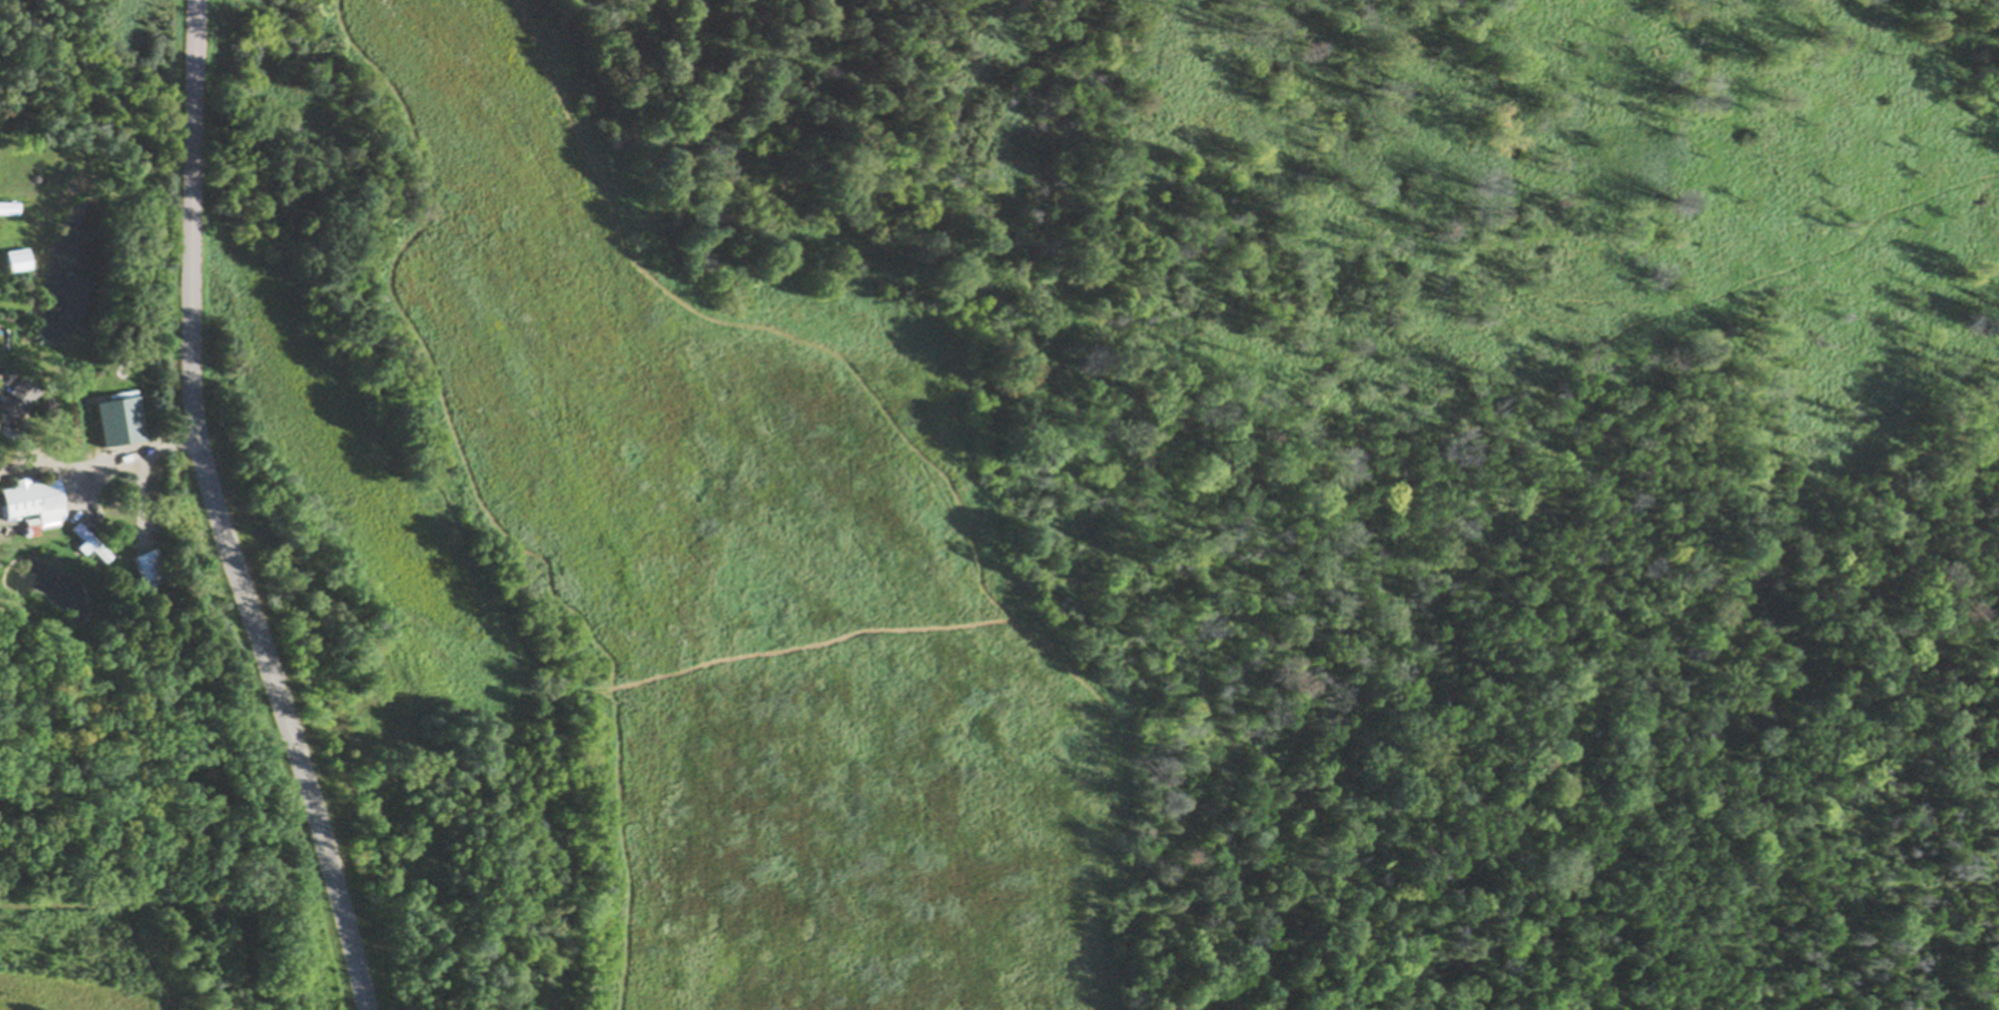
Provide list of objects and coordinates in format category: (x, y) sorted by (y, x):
building: (10, 209)
building: (18, 260)
building: (7, 379)
building: (16, 404)
road: (107, 463)
building: (36, 503)
road: (219, 514)
building: (92, 545)
building: (153, 568)

